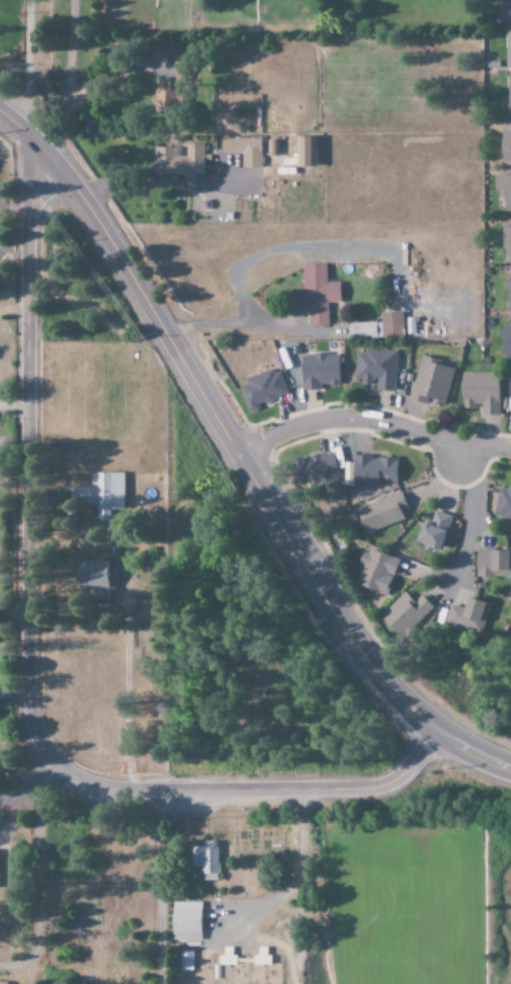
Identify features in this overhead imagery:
building: (506, 8)
building: (508, 50)
building: (508, 92)
building: (165, 98)
building: (505, 146)
building: (272, 149)
building: (244, 151)
building: (305, 153)
building: (178, 161)
road: (28, 184)
building: (503, 190)
building: (506, 242)
building: (508, 290)
building: (316, 293)
building: (378, 327)
building: (505, 339)
building: (375, 368)
building: (318, 370)
building: (430, 381)
building: (260, 388)
building: (480, 391)
building: (510, 410)
road: (372, 419)
road: (240, 457)
building: (308, 470)
building: (369, 471)
building: (102, 493)
building: (502, 504)
building: (381, 512)
road: (472, 513)
building: (433, 530)
building: (492, 562)
building: (376, 571)
building: (95, 577)
building: (405, 614)
building: (467, 615)
road: (29, 670)
building: (206, 860)
building: (185, 921)
building: (226, 957)
building: (185, 960)
building: (2, 983)

